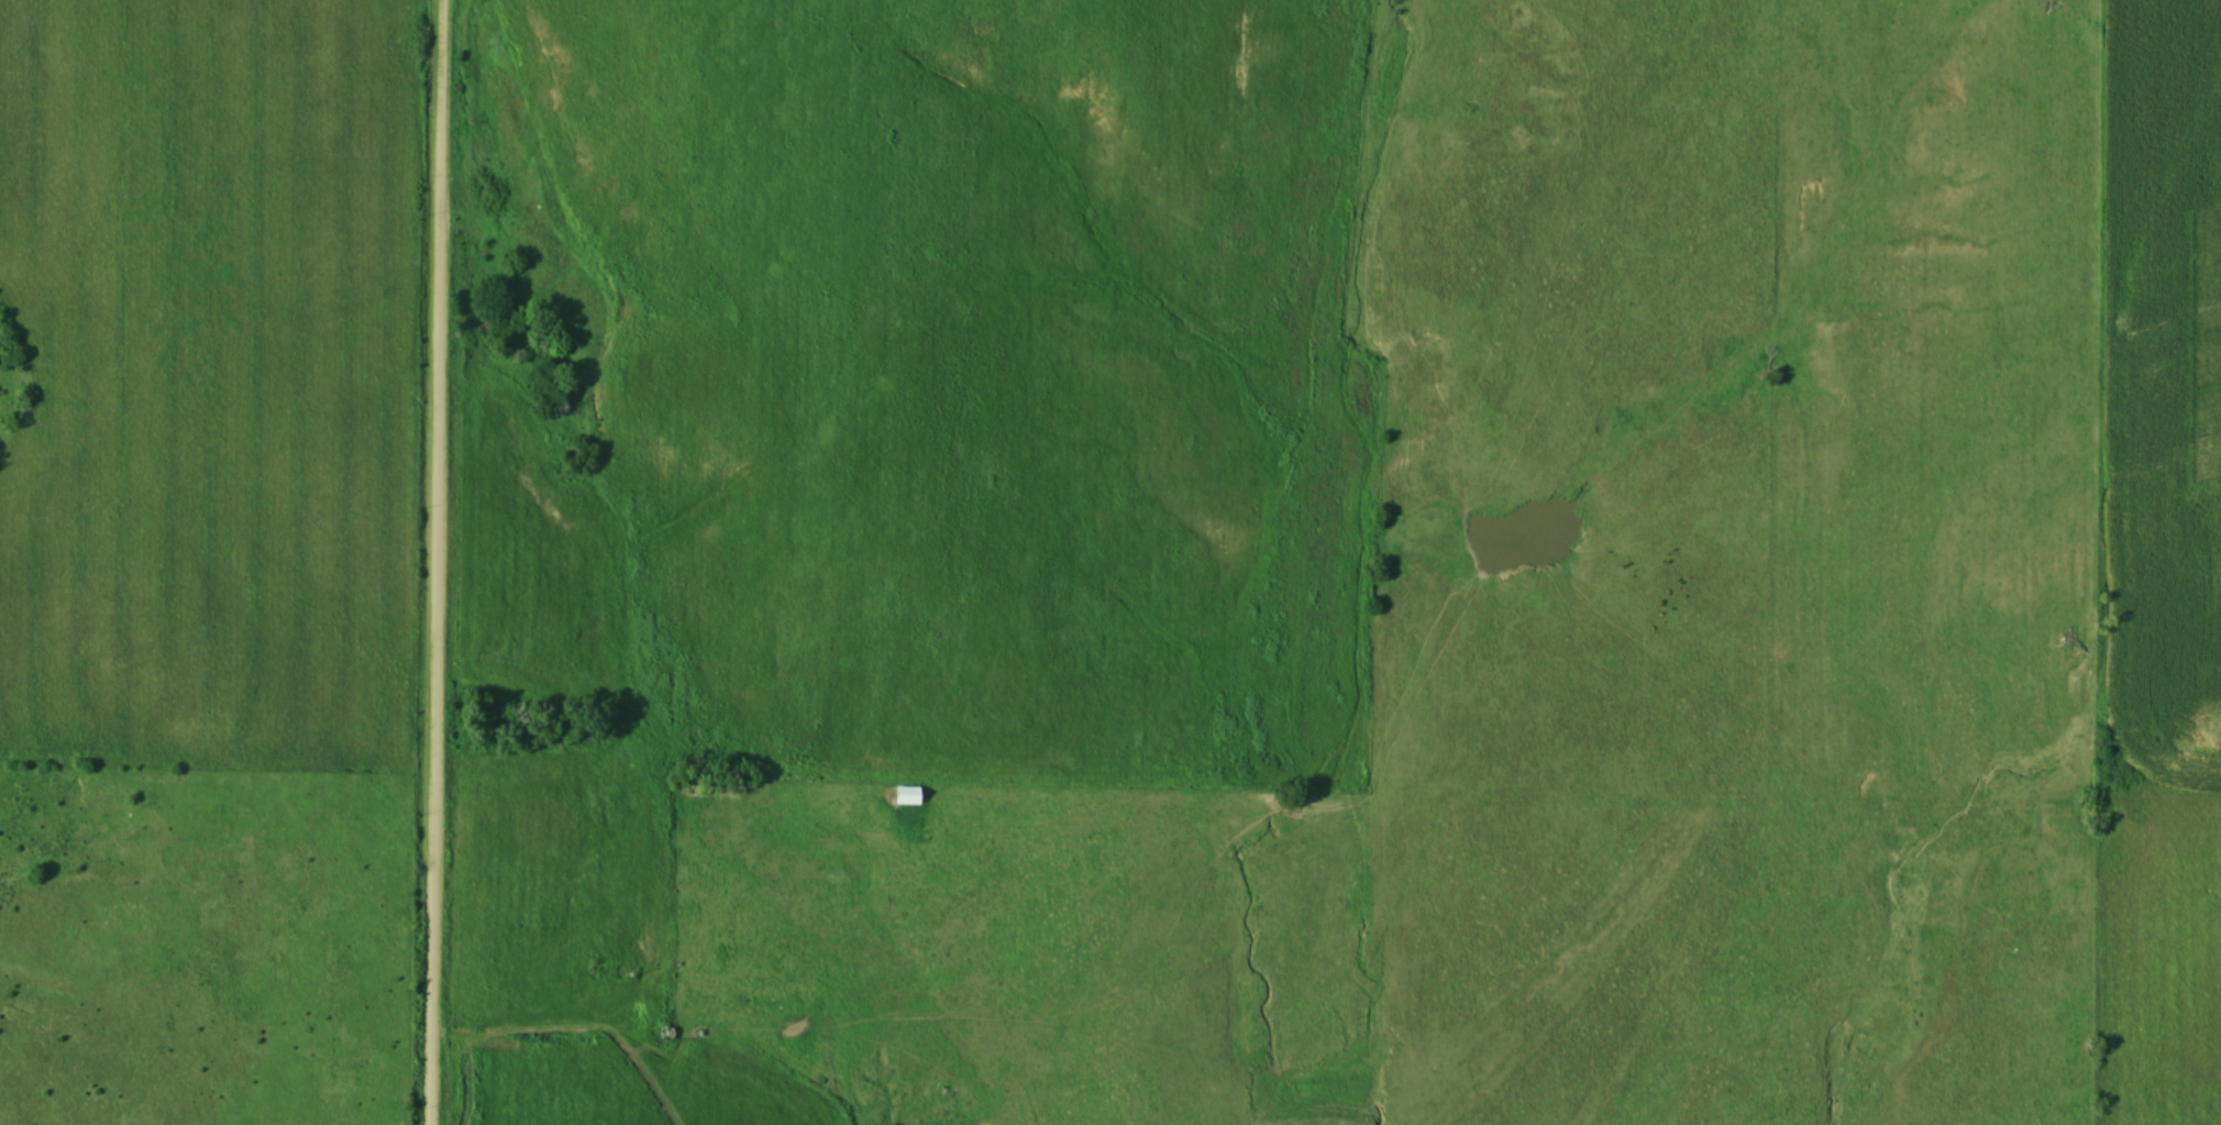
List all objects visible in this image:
road: (432, 562)
building: (909, 794)

